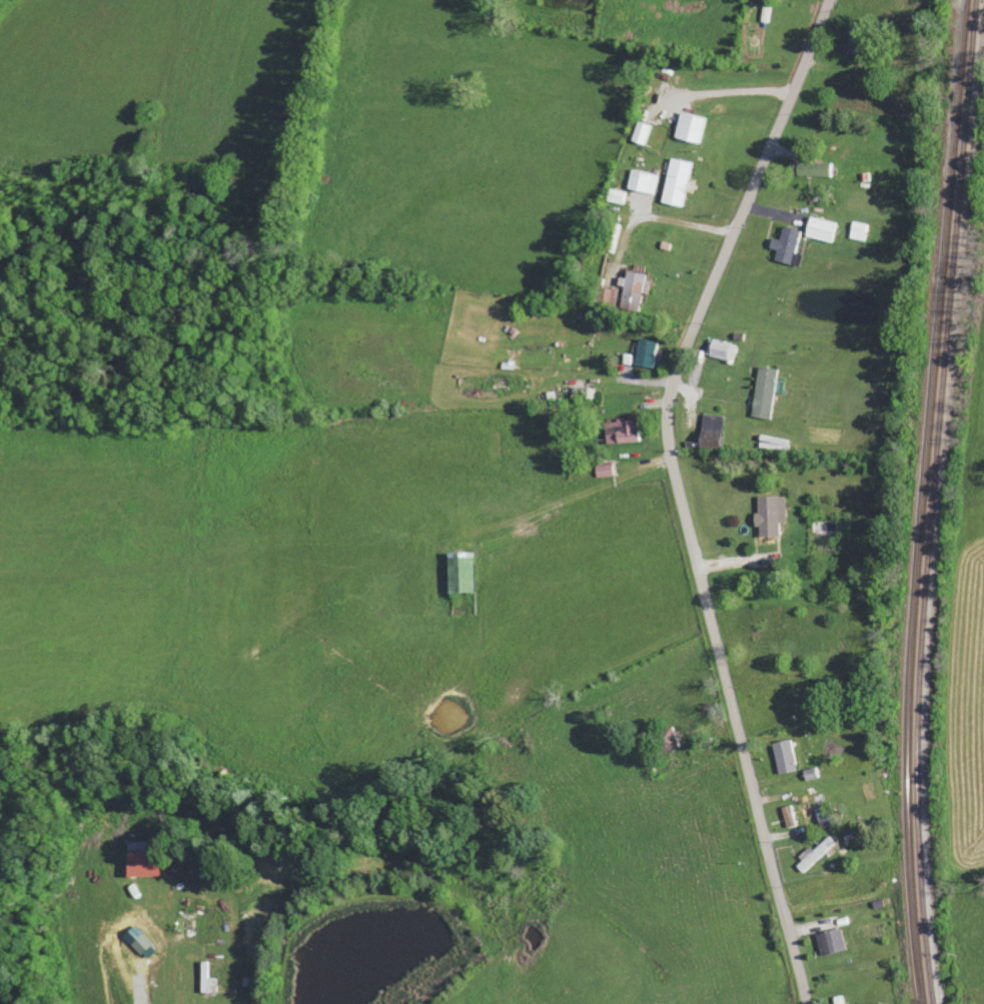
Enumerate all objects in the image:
building: (690, 127)
building: (641, 132)
building: (810, 167)
building: (643, 181)
building: (677, 182)
building: (617, 196)
building: (820, 229)
building: (859, 231)
building: (788, 246)
building: (634, 290)
building: (611, 296)
building: (722, 350)
building: (648, 353)
building: (765, 393)
building: (621, 431)
building: (712, 431)
building: (605, 470)
road: (680, 494)
railway: (922, 501)
railway: (931, 501)
building: (769, 516)
building: (461, 573)
building: (784, 757)
building: (789, 816)
building: (816, 854)
building: (140, 861)
building: (831, 942)
building: (145, 946)
building: (208, 980)

